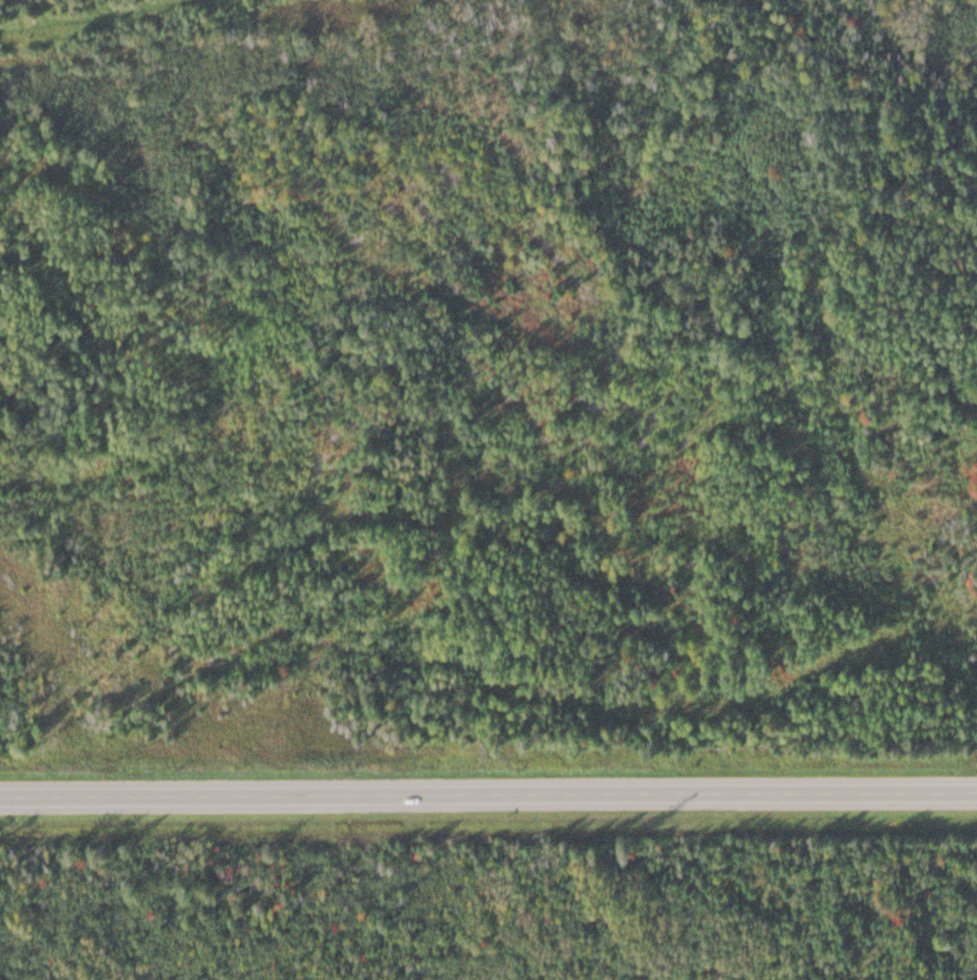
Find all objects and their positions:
road: (488, 786)

